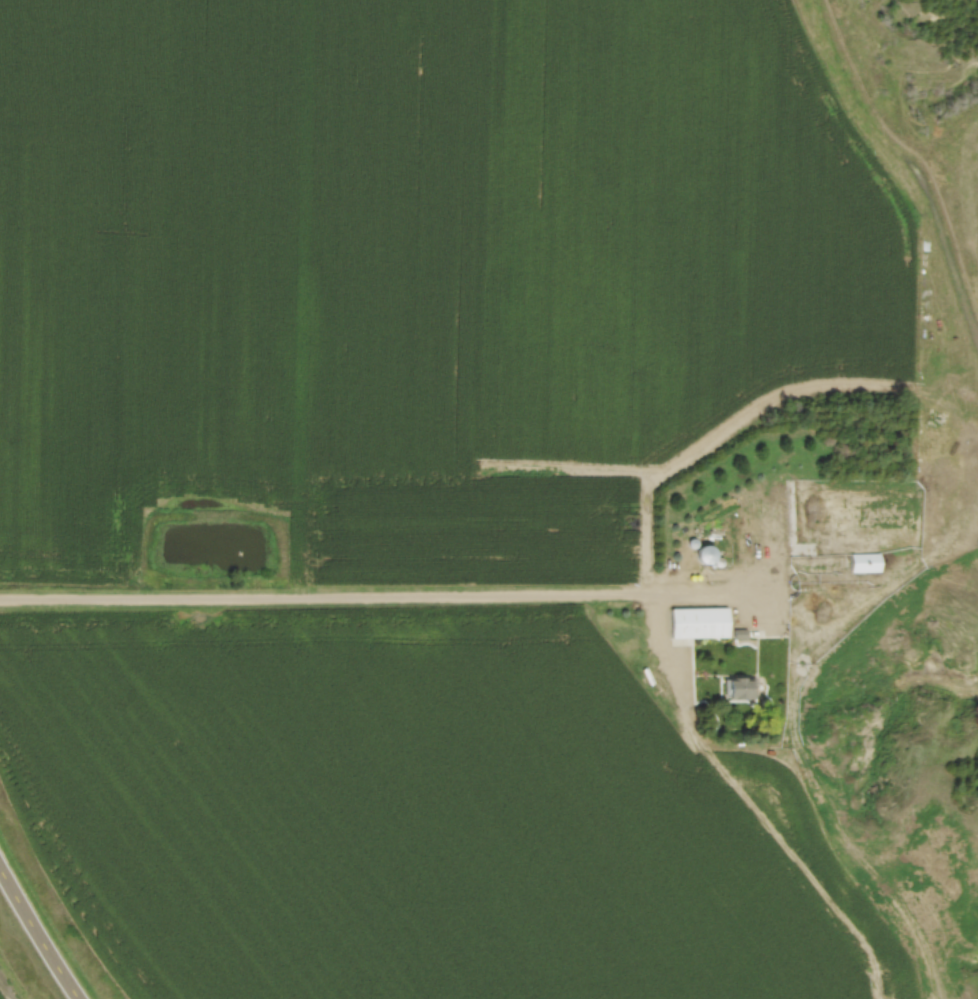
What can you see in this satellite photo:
building: (861, 564)
road: (379, 597)
building: (696, 626)
building: (740, 690)
road: (37, 936)

